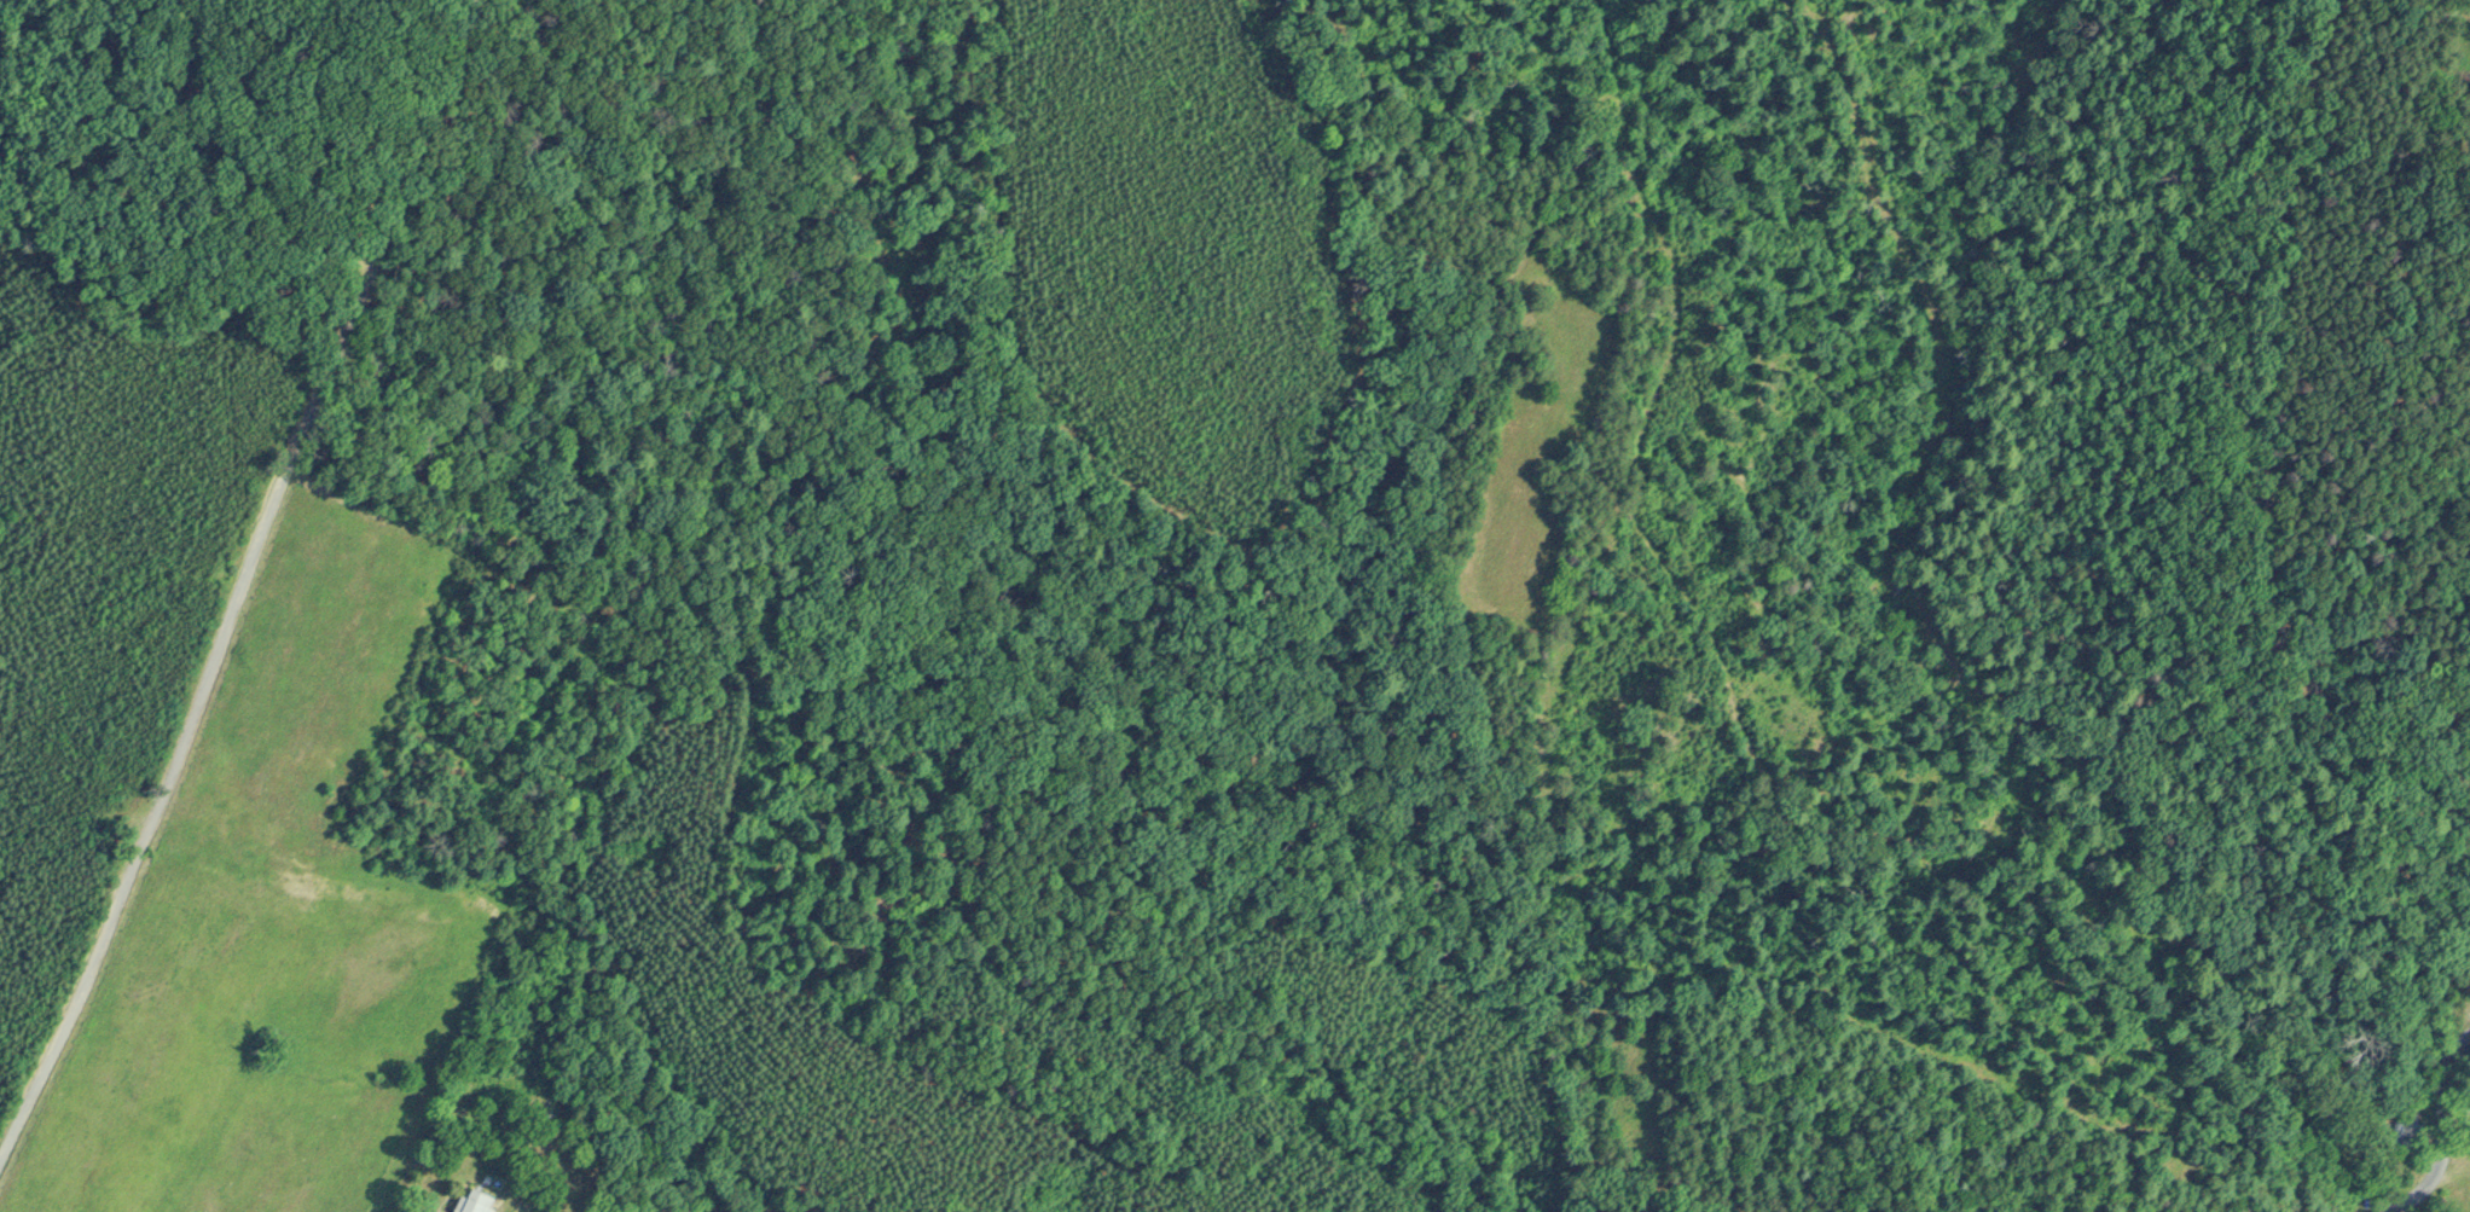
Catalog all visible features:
road: (243, 582)
building: (2405, 1126)
road: (2443, 1130)
building: (472, 1201)

